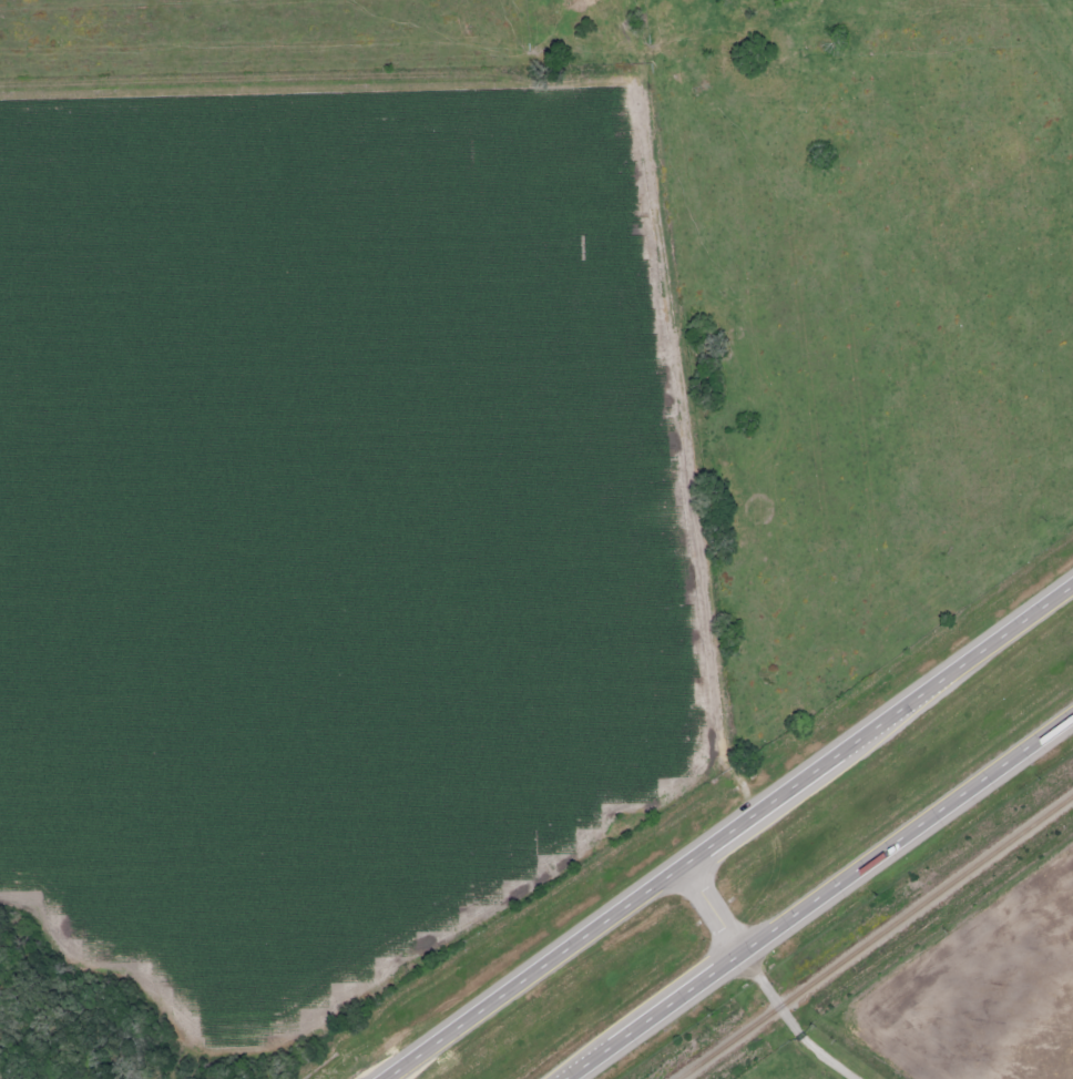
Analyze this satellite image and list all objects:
road: (727, 834)
road: (821, 903)
railway: (873, 935)
road: (724, 937)
road: (816, 1045)

